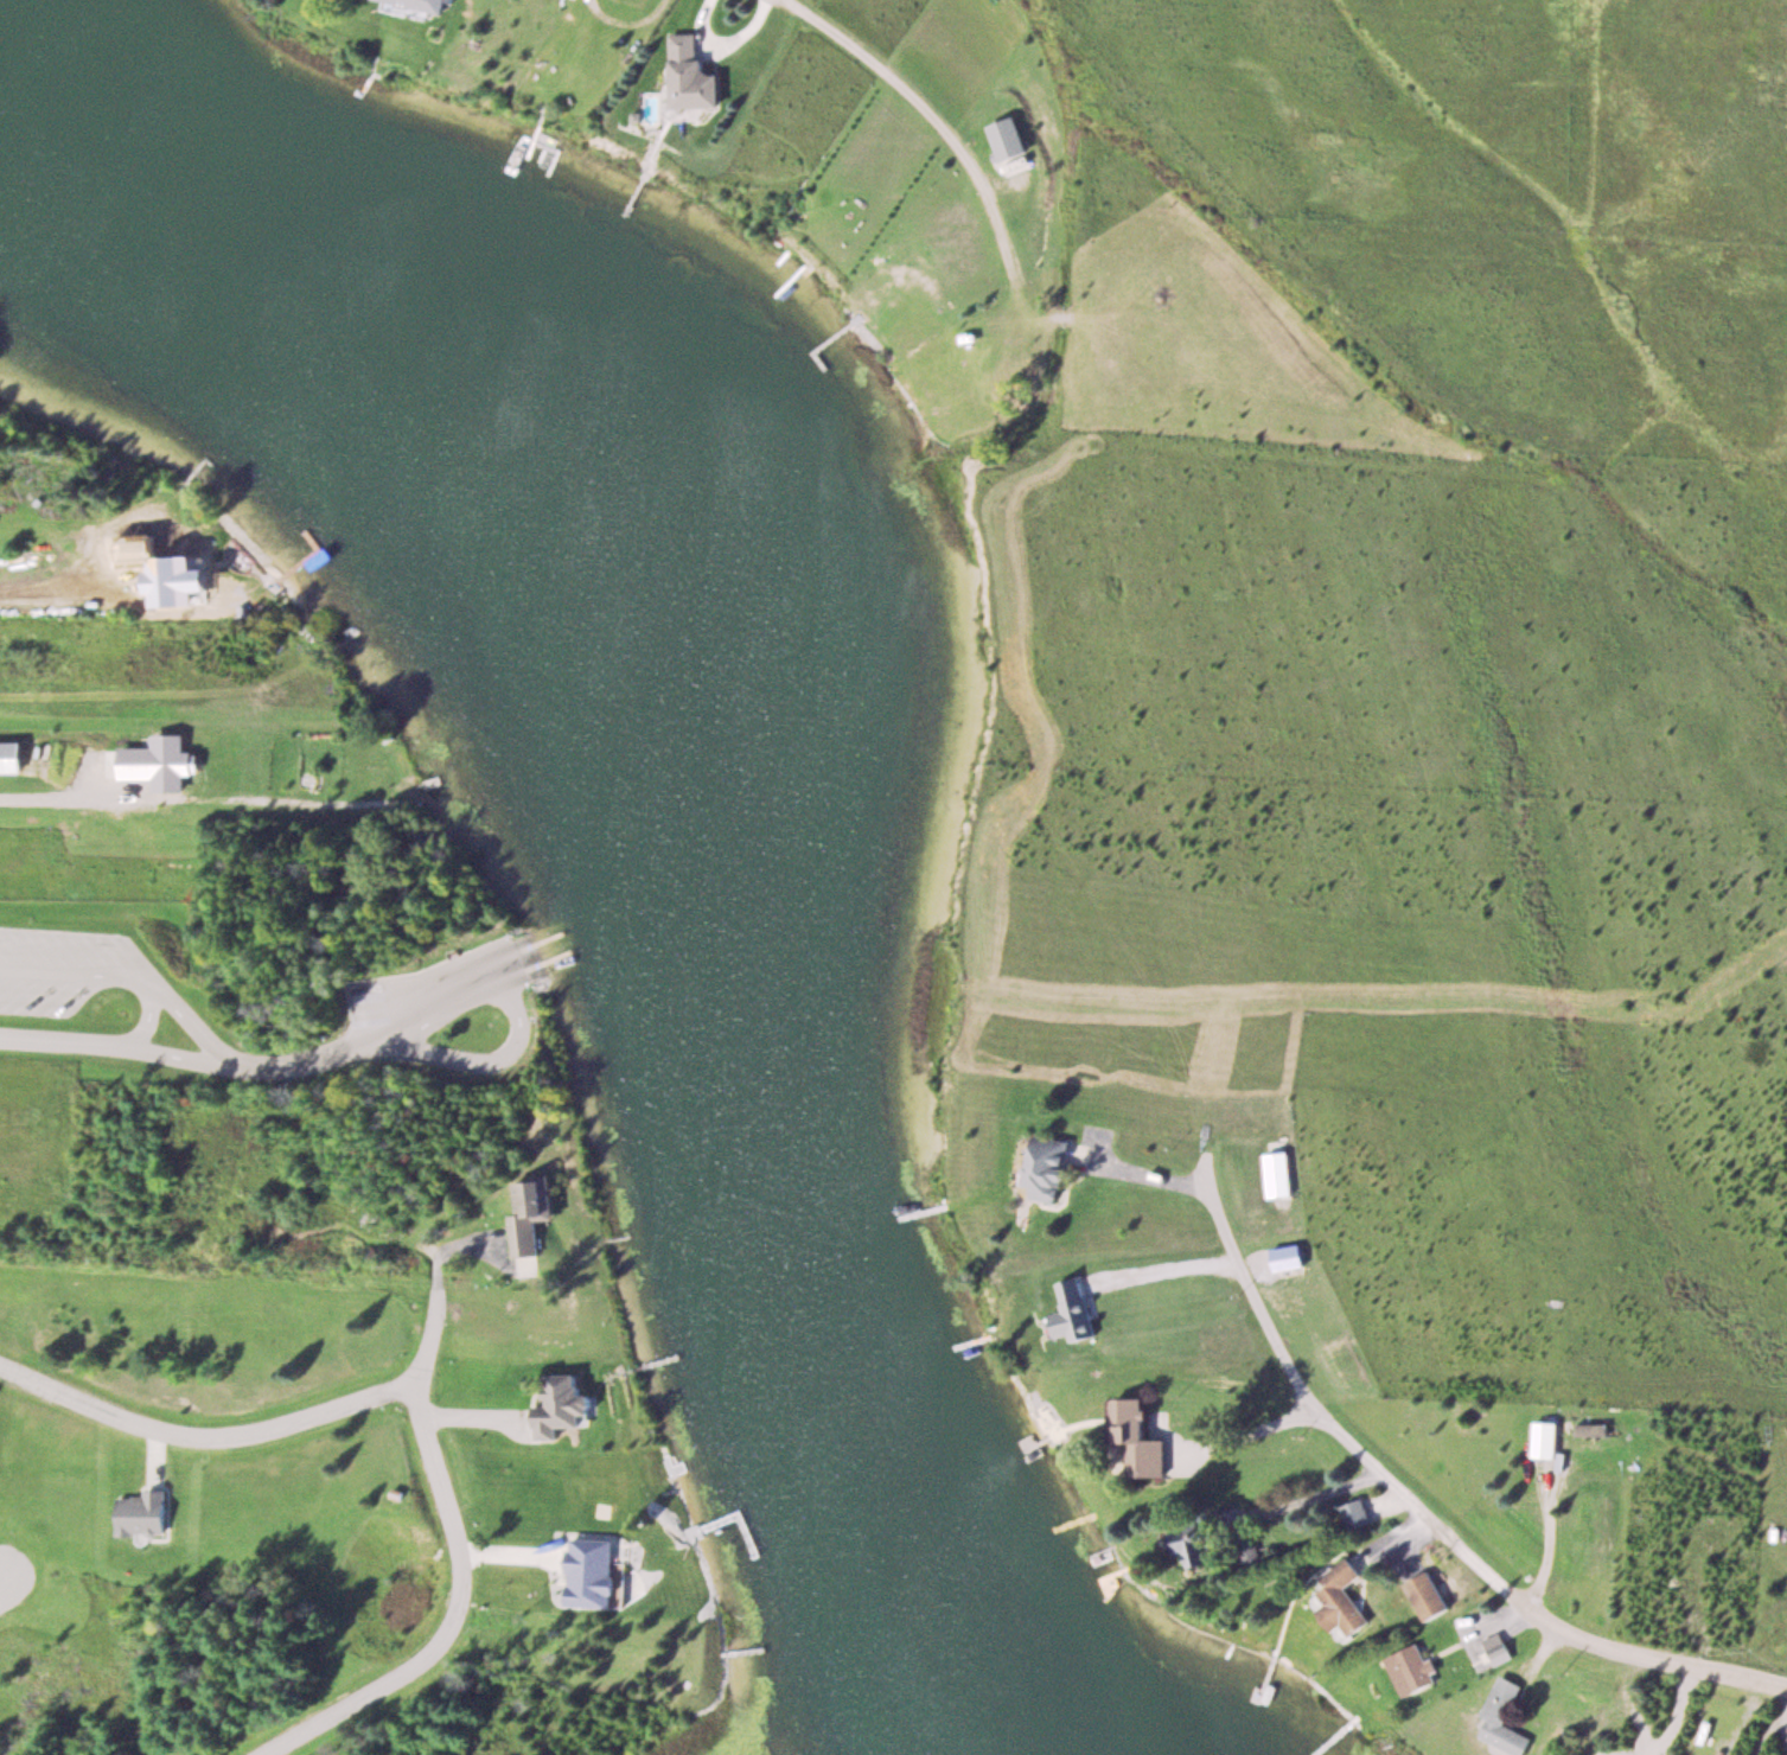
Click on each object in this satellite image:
building: (413, 6)
building: (694, 76)
road: (953, 136)
building: (1013, 138)
road: (51, 608)
river: (660, 790)
parking lot: (18, 964)
road: (136, 976)
road: (511, 1007)
road: (143, 1017)
road: (119, 1048)
road: (312, 1058)
building: (1058, 1169)
building: (1288, 1174)
building: (536, 1211)
building: (569, 1408)
building: (1608, 1429)
road: (203, 1437)
building: (1562, 1441)
building: (1153, 1444)
building: (141, 1513)
building: (1367, 1514)
building: (1199, 1546)
building: (1257, 1552)
road: (1, 1584)
road: (1525, 1588)
building: (1441, 1597)
building: (1352, 1598)
road: (460, 1616)
building: (1421, 1671)
building: (1512, 1718)

